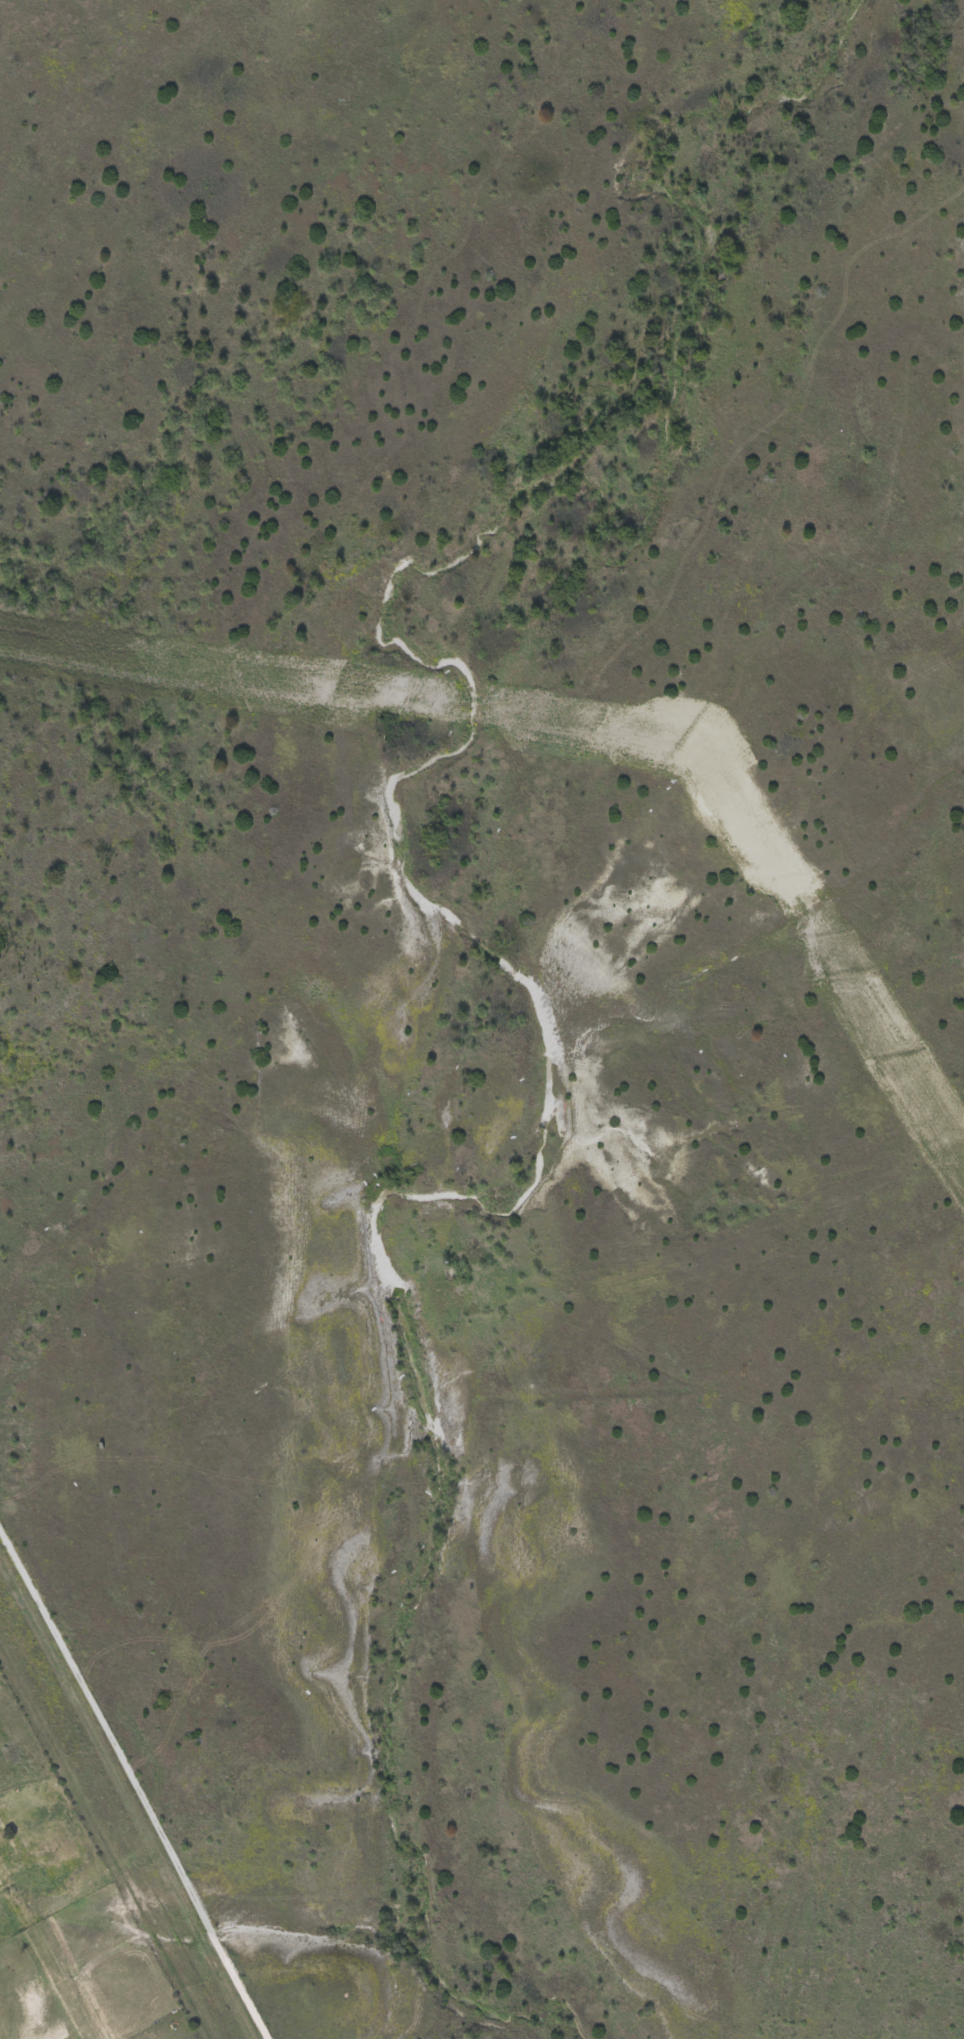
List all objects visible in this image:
road: (134, 1784)
road: (872, 1815)
road: (817, 1948)

